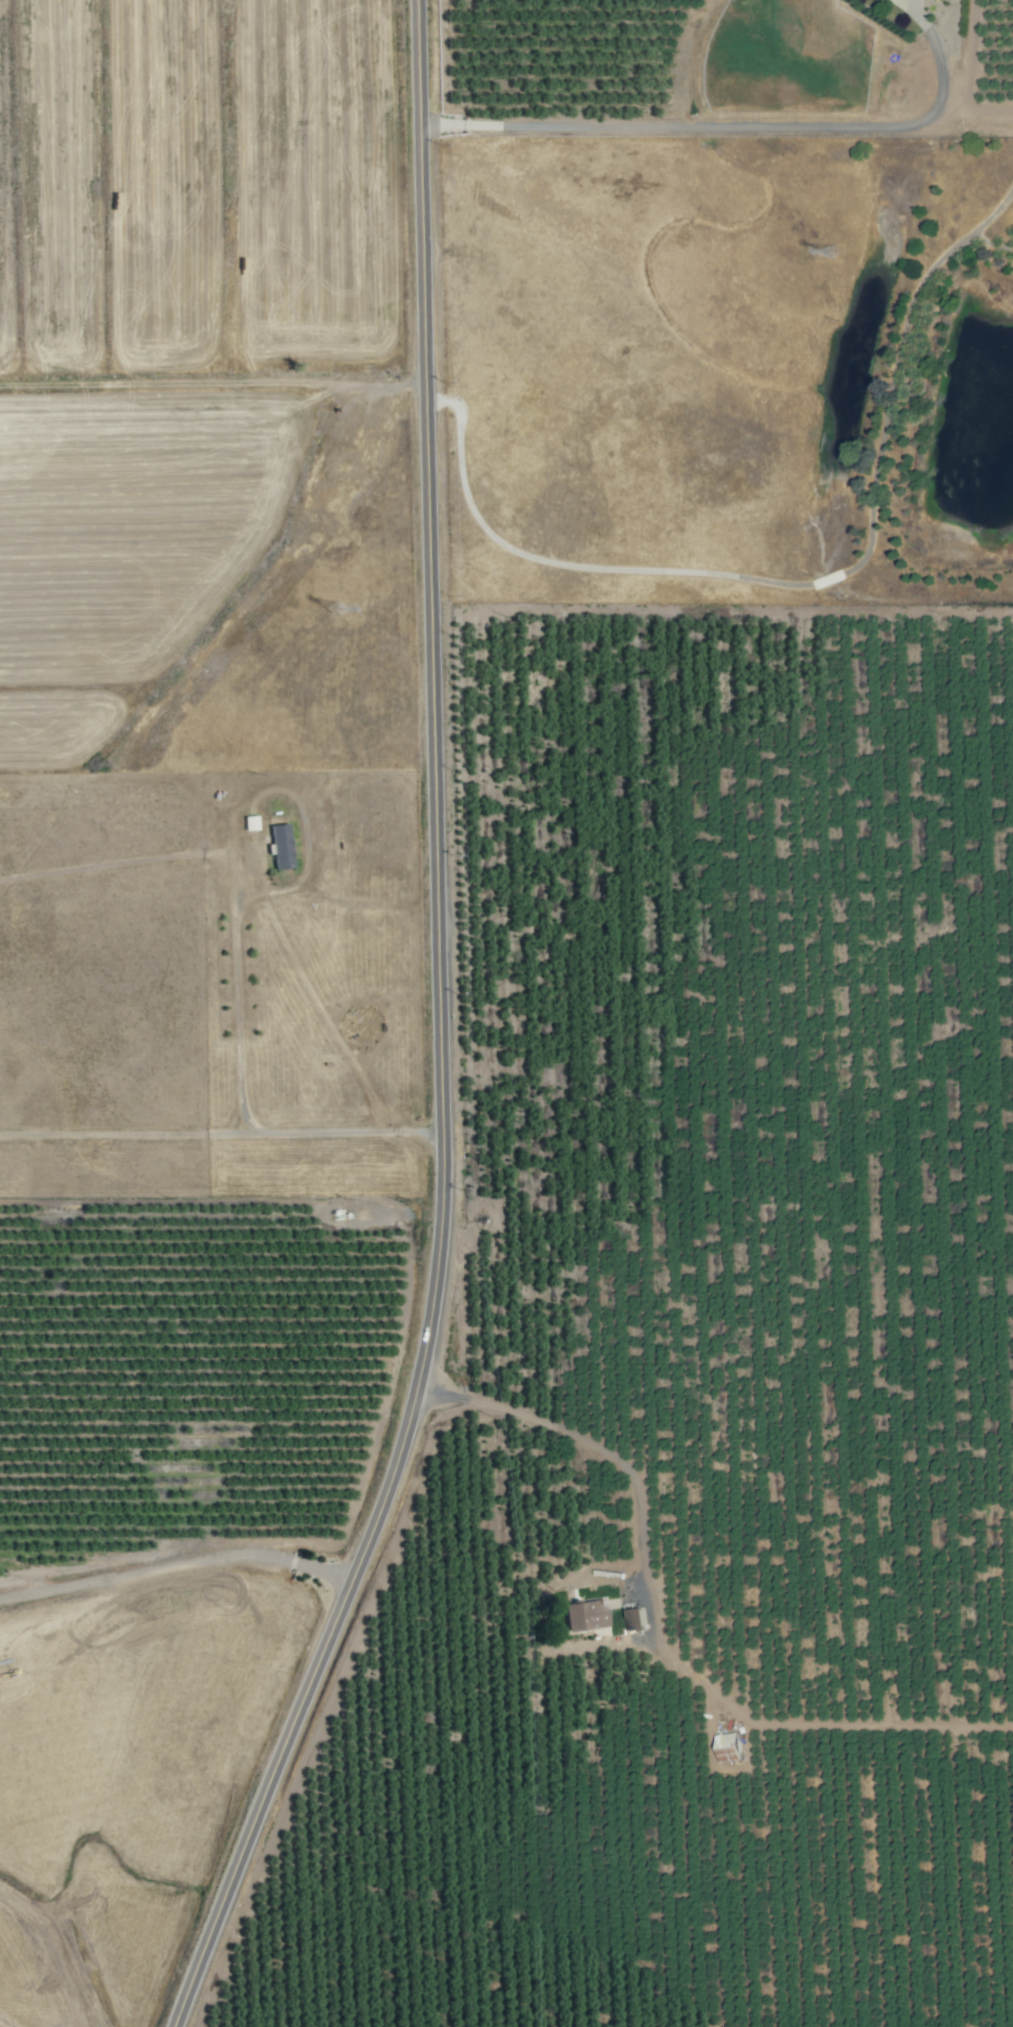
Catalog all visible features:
road: (740, 126)
power tower: (834, 254)
road: (801, 584)
power tower: (334, 609)
building: (281, 847)
road: (235, 870)
road: (441, 1037)
road: (344, 1132)
road: (122, 1134)
road: (587, 1439)
road: (176, 1567)
building: (586, 1616)
building: (727, 1748)

